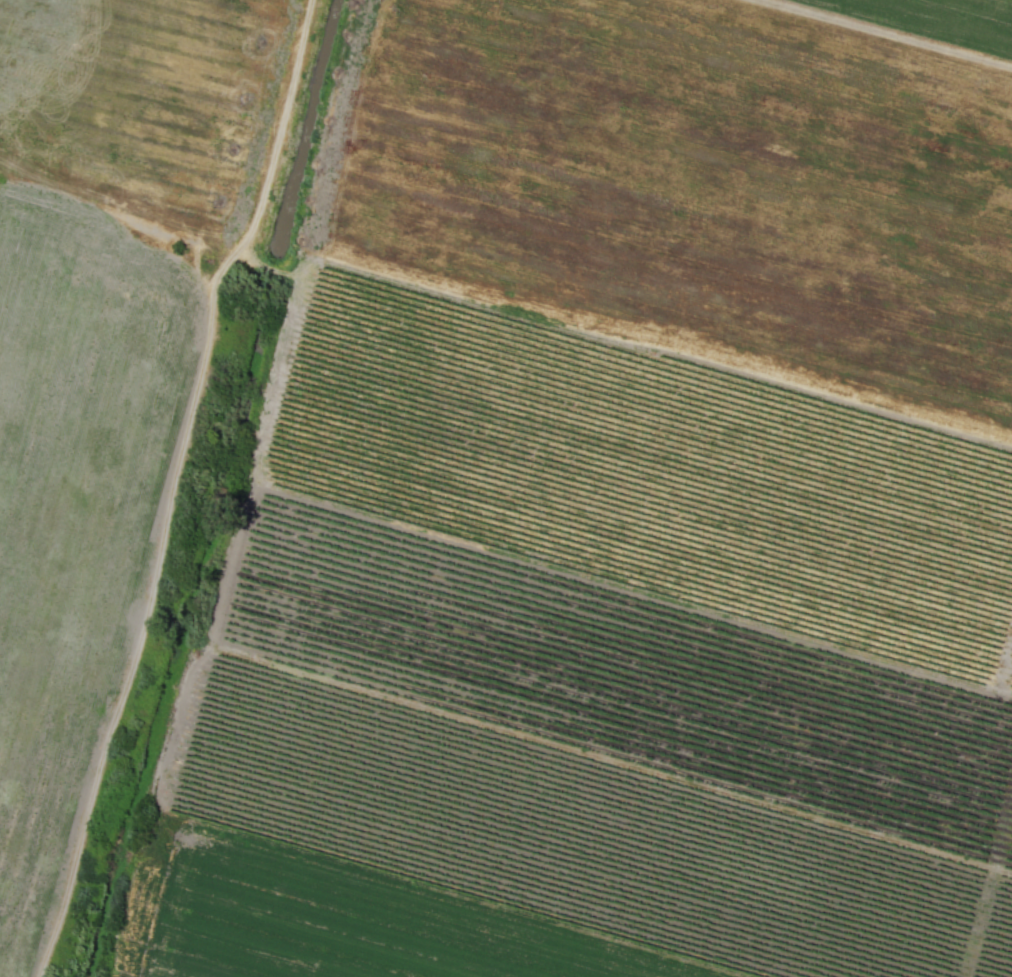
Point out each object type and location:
road: (894, 31)

